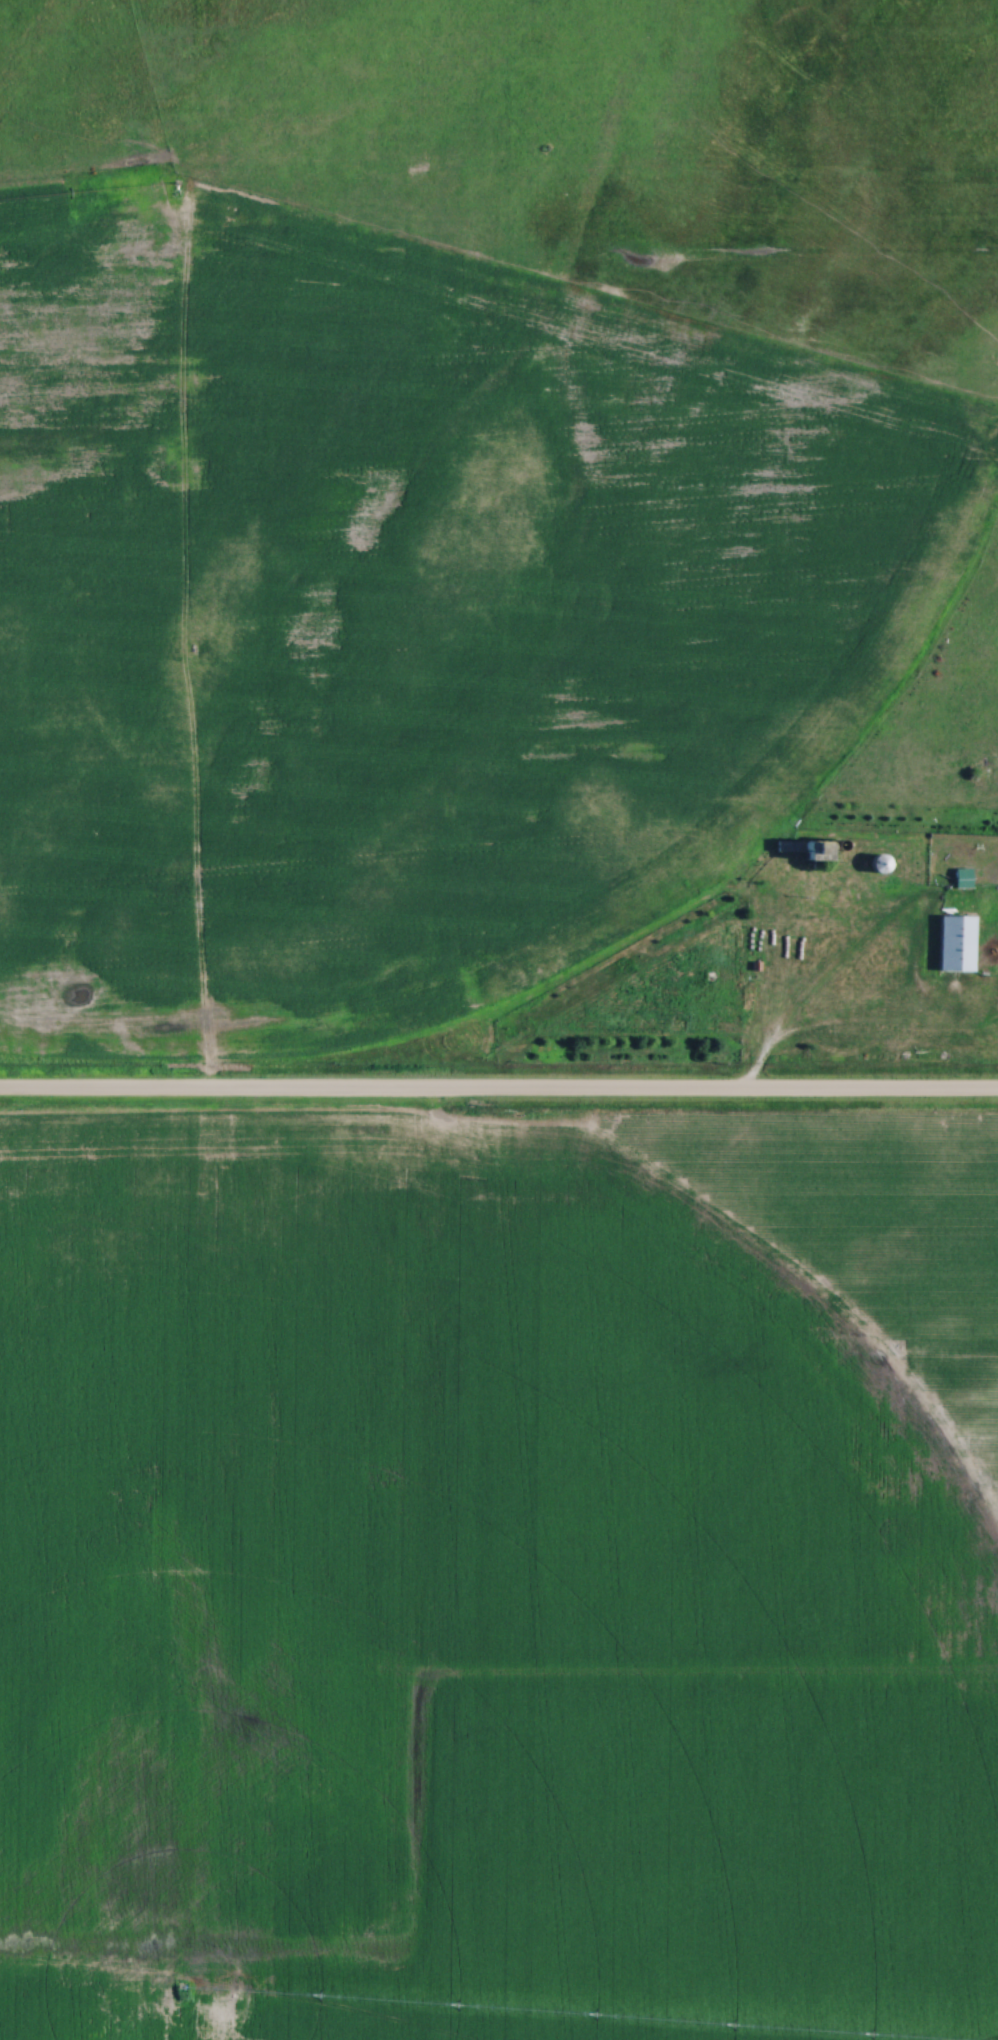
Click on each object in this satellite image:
building: (795, 845)
building: (872, 864)
road: (761, 931)
building: (951, 942)
road: (498, 1087)

